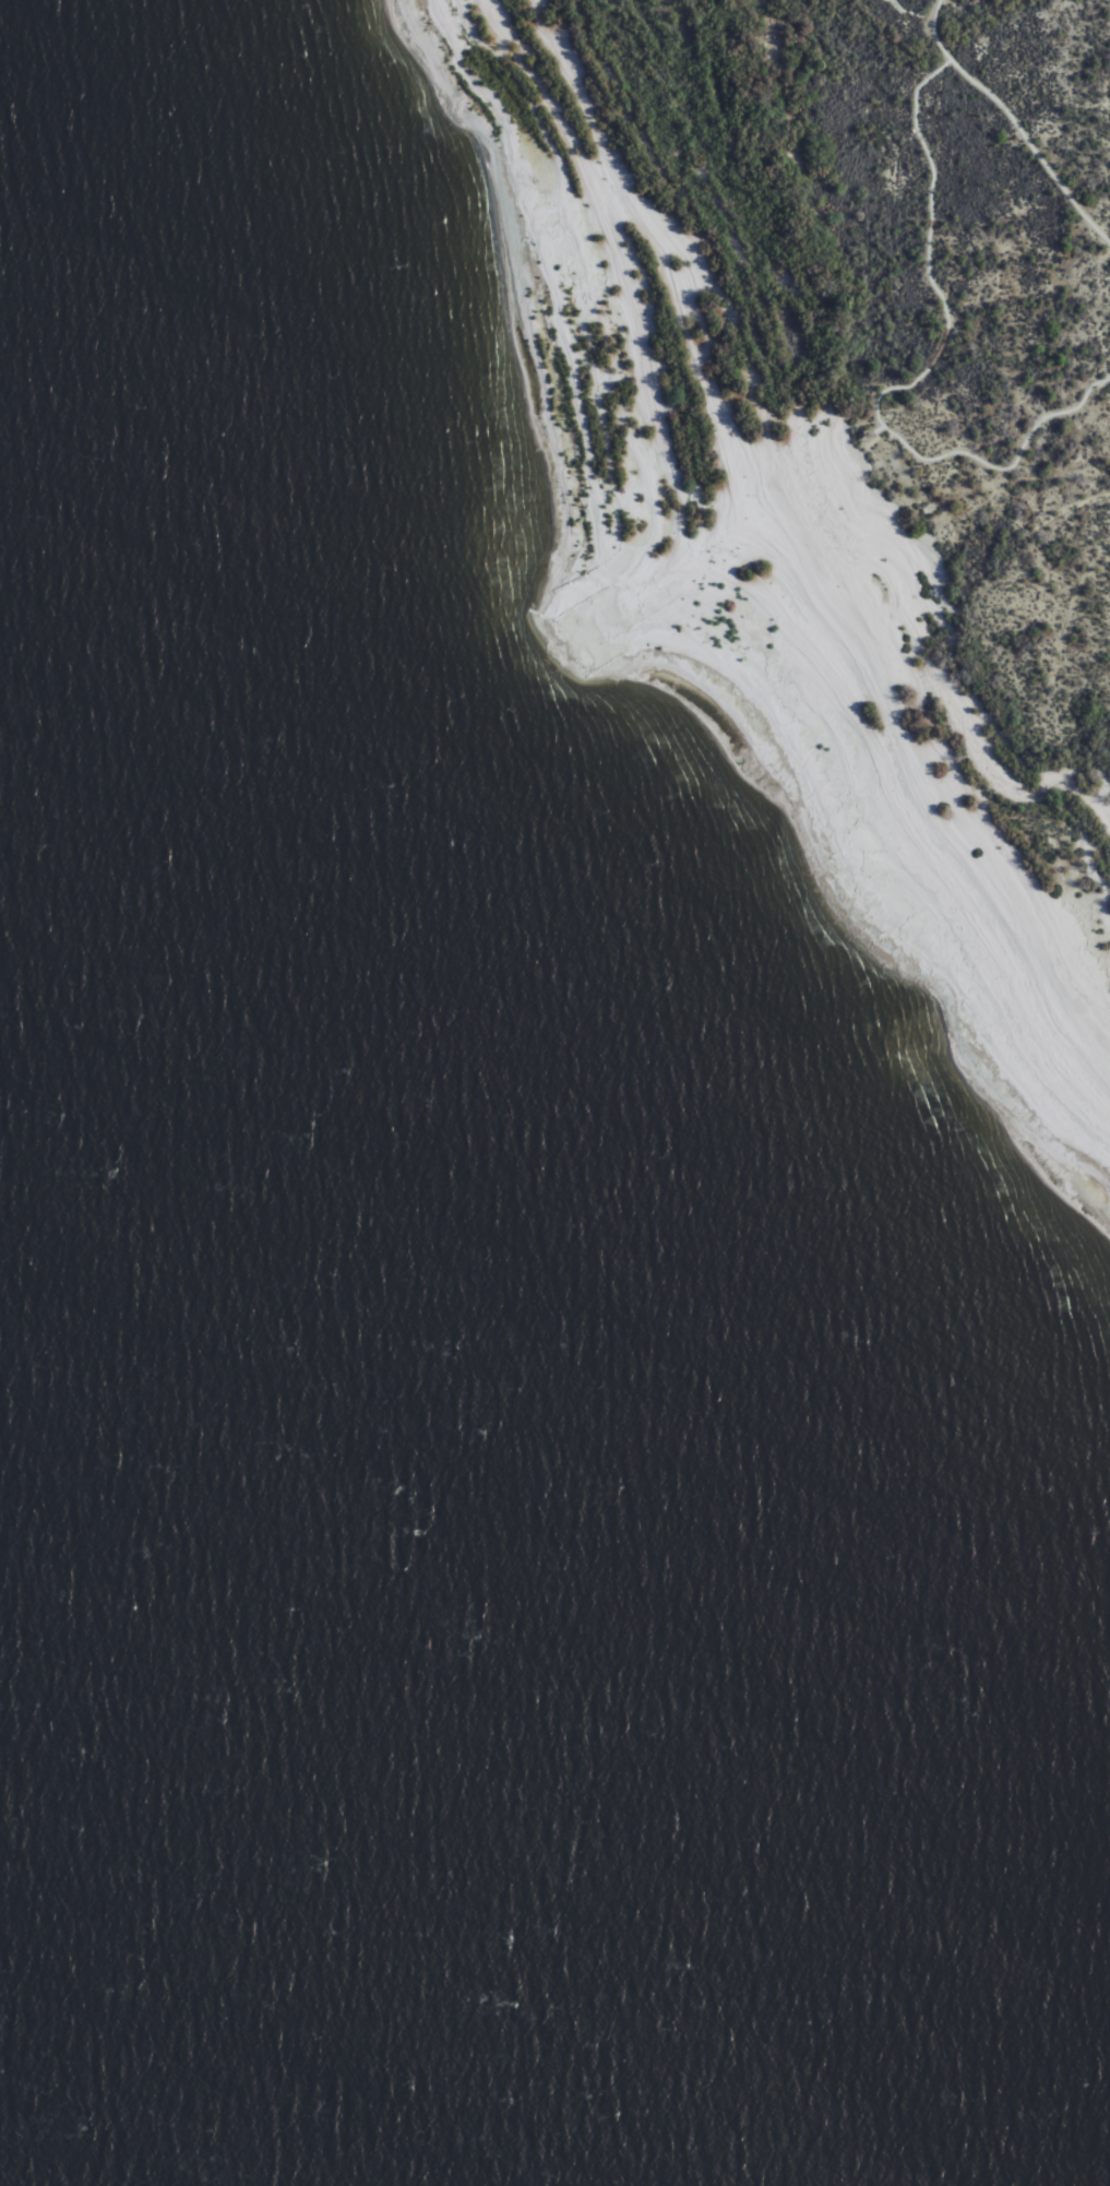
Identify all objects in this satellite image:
road: (1016, 533)
road: (1059, 675)

